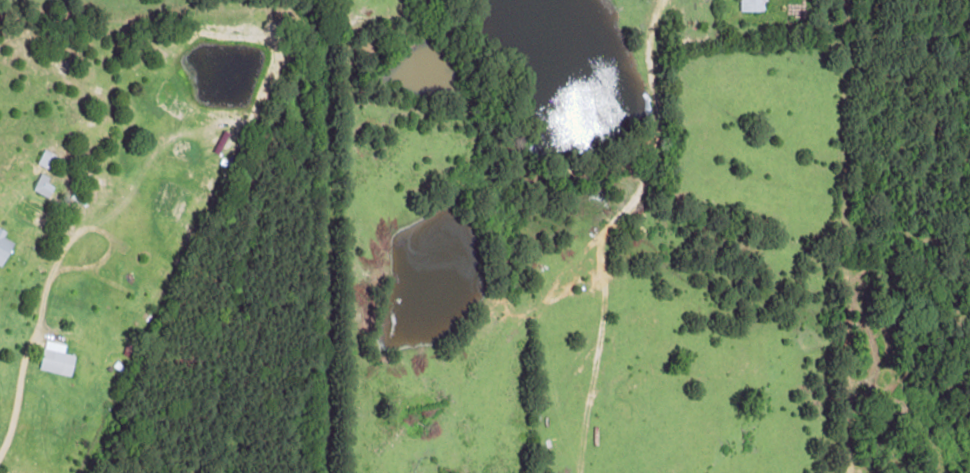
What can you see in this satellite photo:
building: (753, 5)
building: (48, 159)
building: (43, 185)
building: (4, 247)
building: (57, 359)

